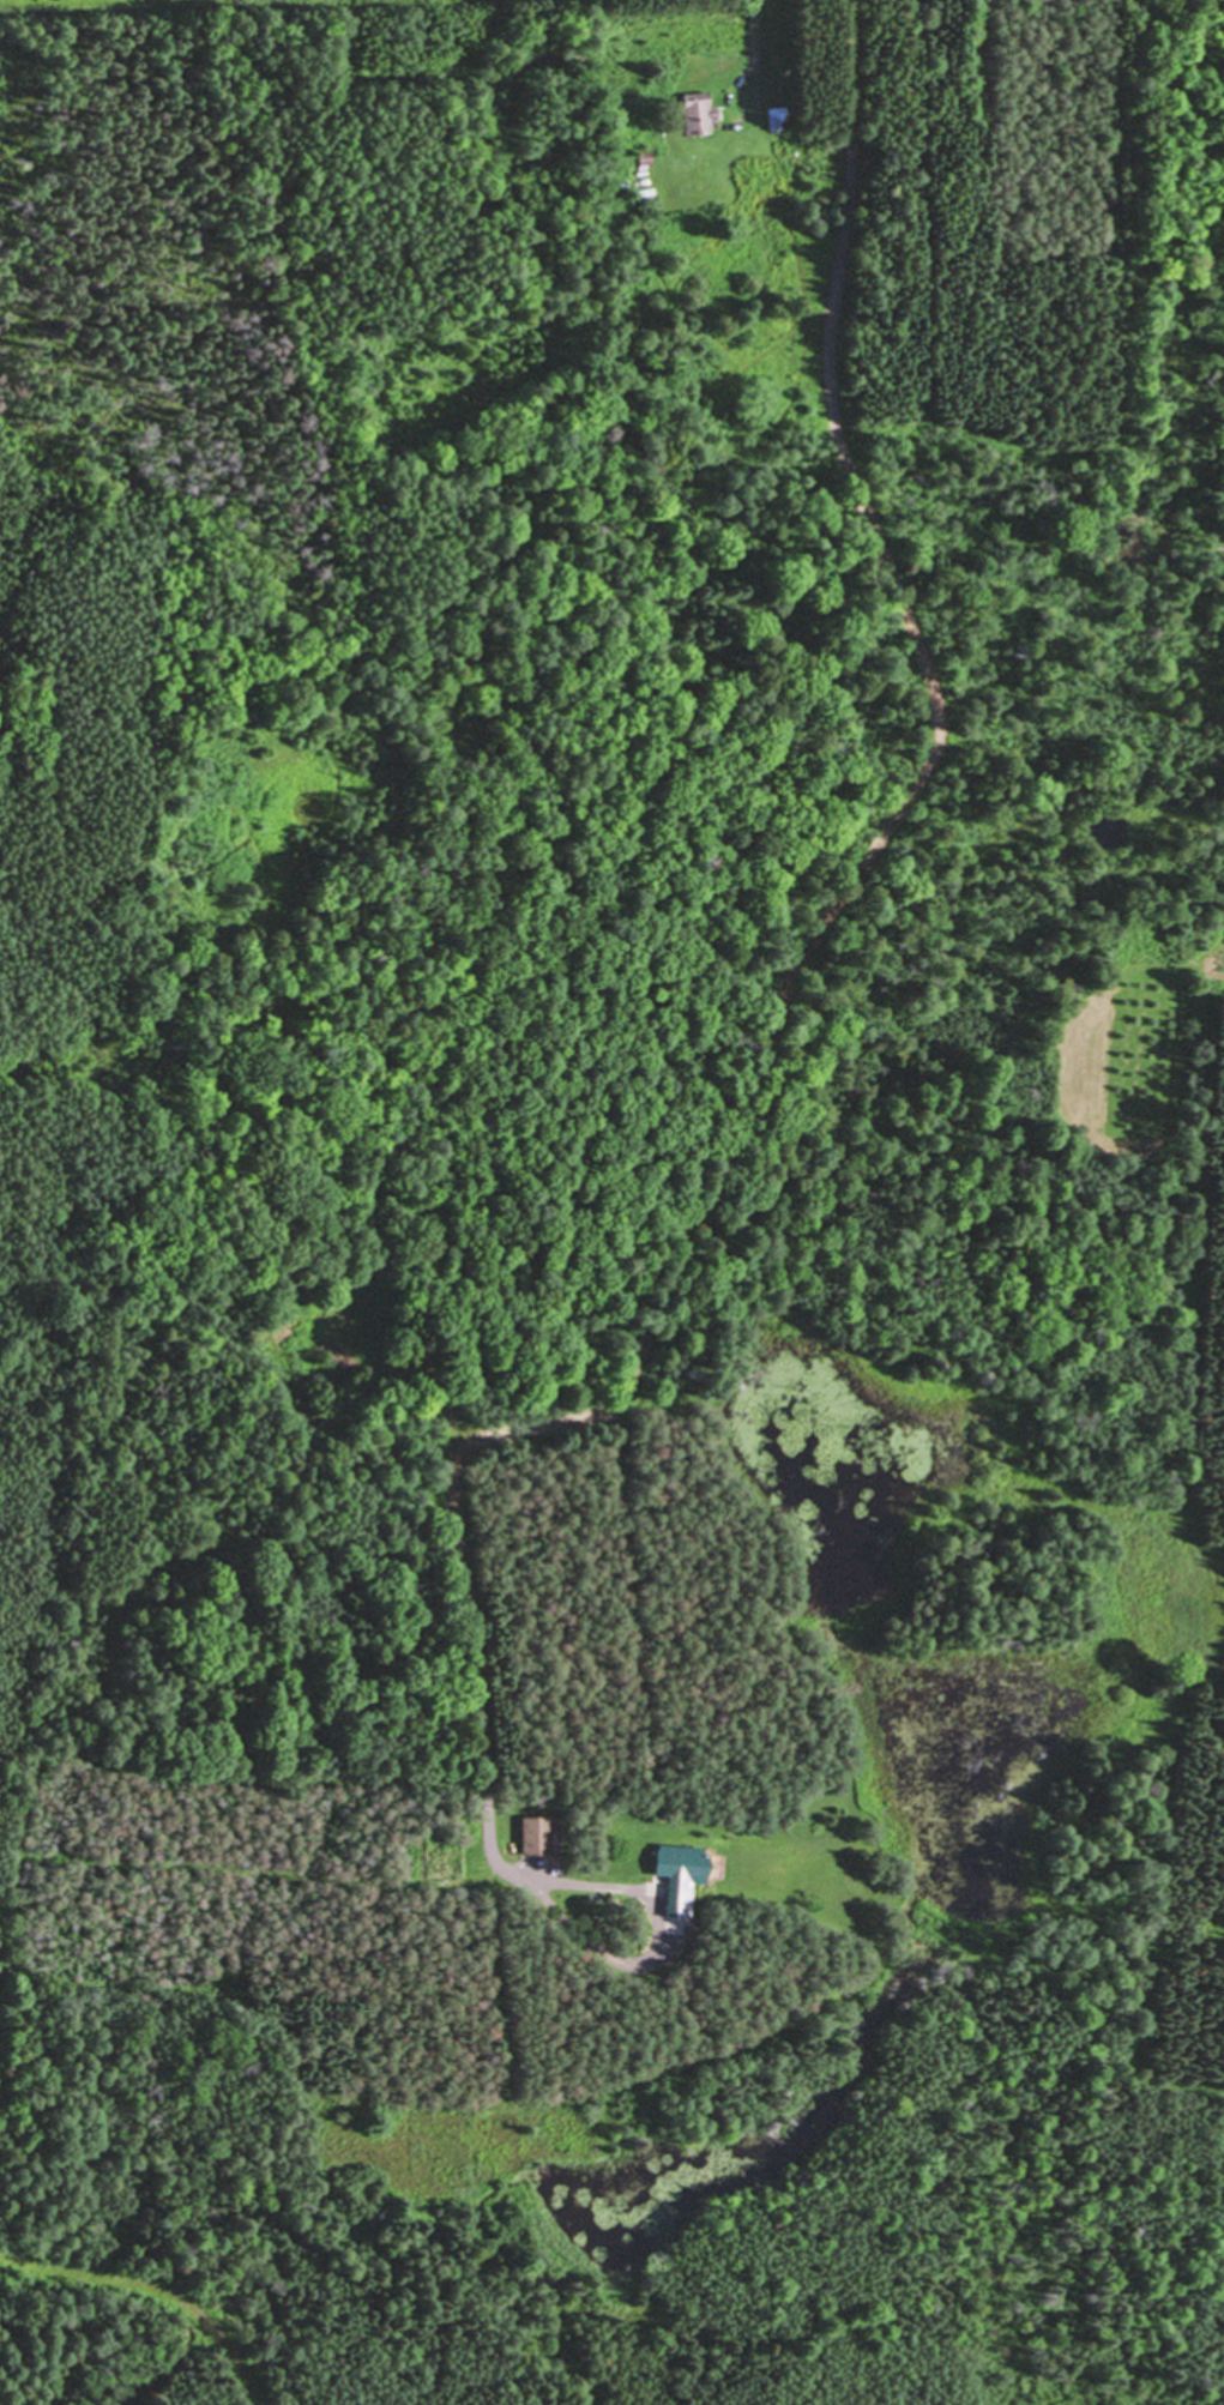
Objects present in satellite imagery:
road: (752, 52)
building: (705, 113)
building: (780, 117)
road: (782, 994)
building: (542, 1836)
building: (687, 1874)
road: (659, 1947)
road: (155, 2289)

